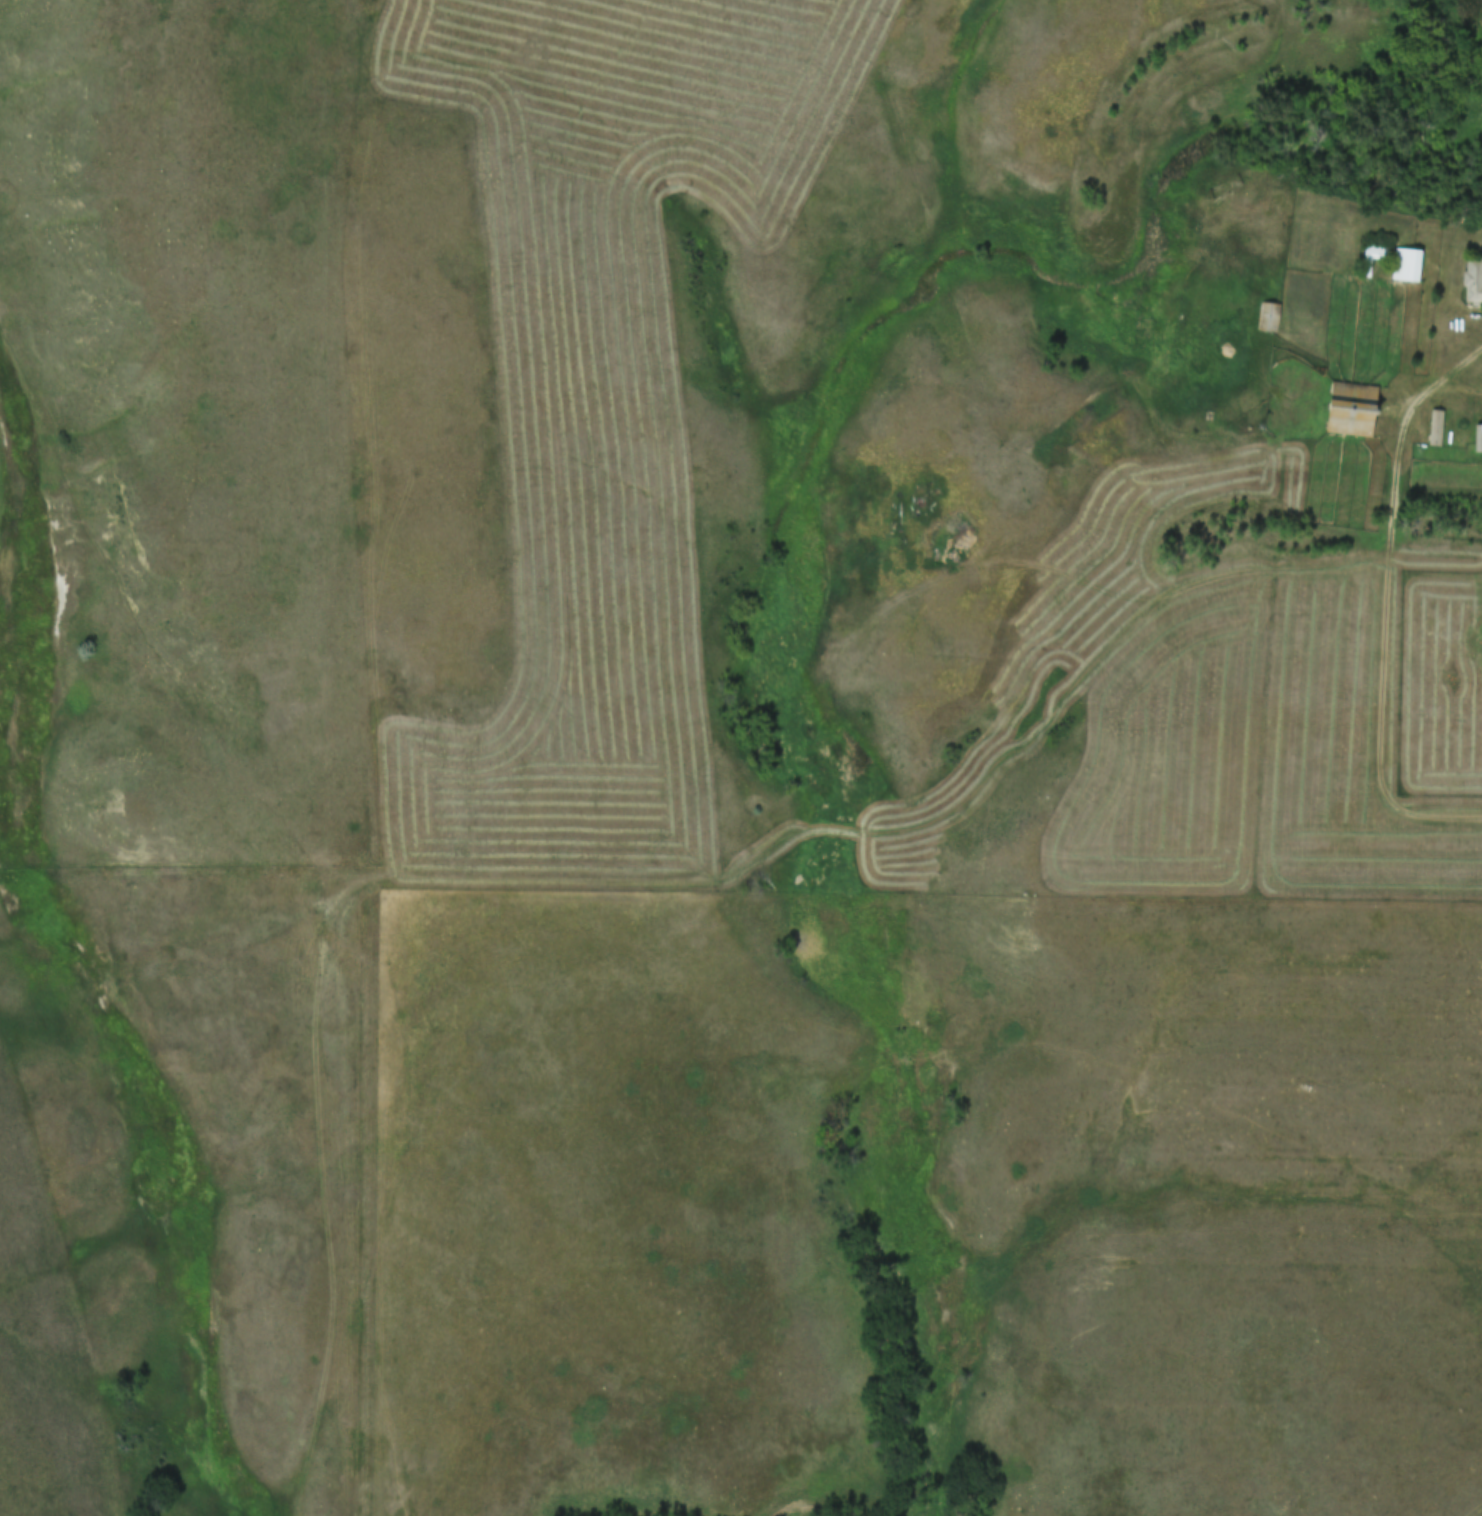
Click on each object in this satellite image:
building: (1370, 258)
building: (1404, 266)
building: (1470, 281)
road: (1440, 385)
building: (1347, 410)
building: (1478, 440)

